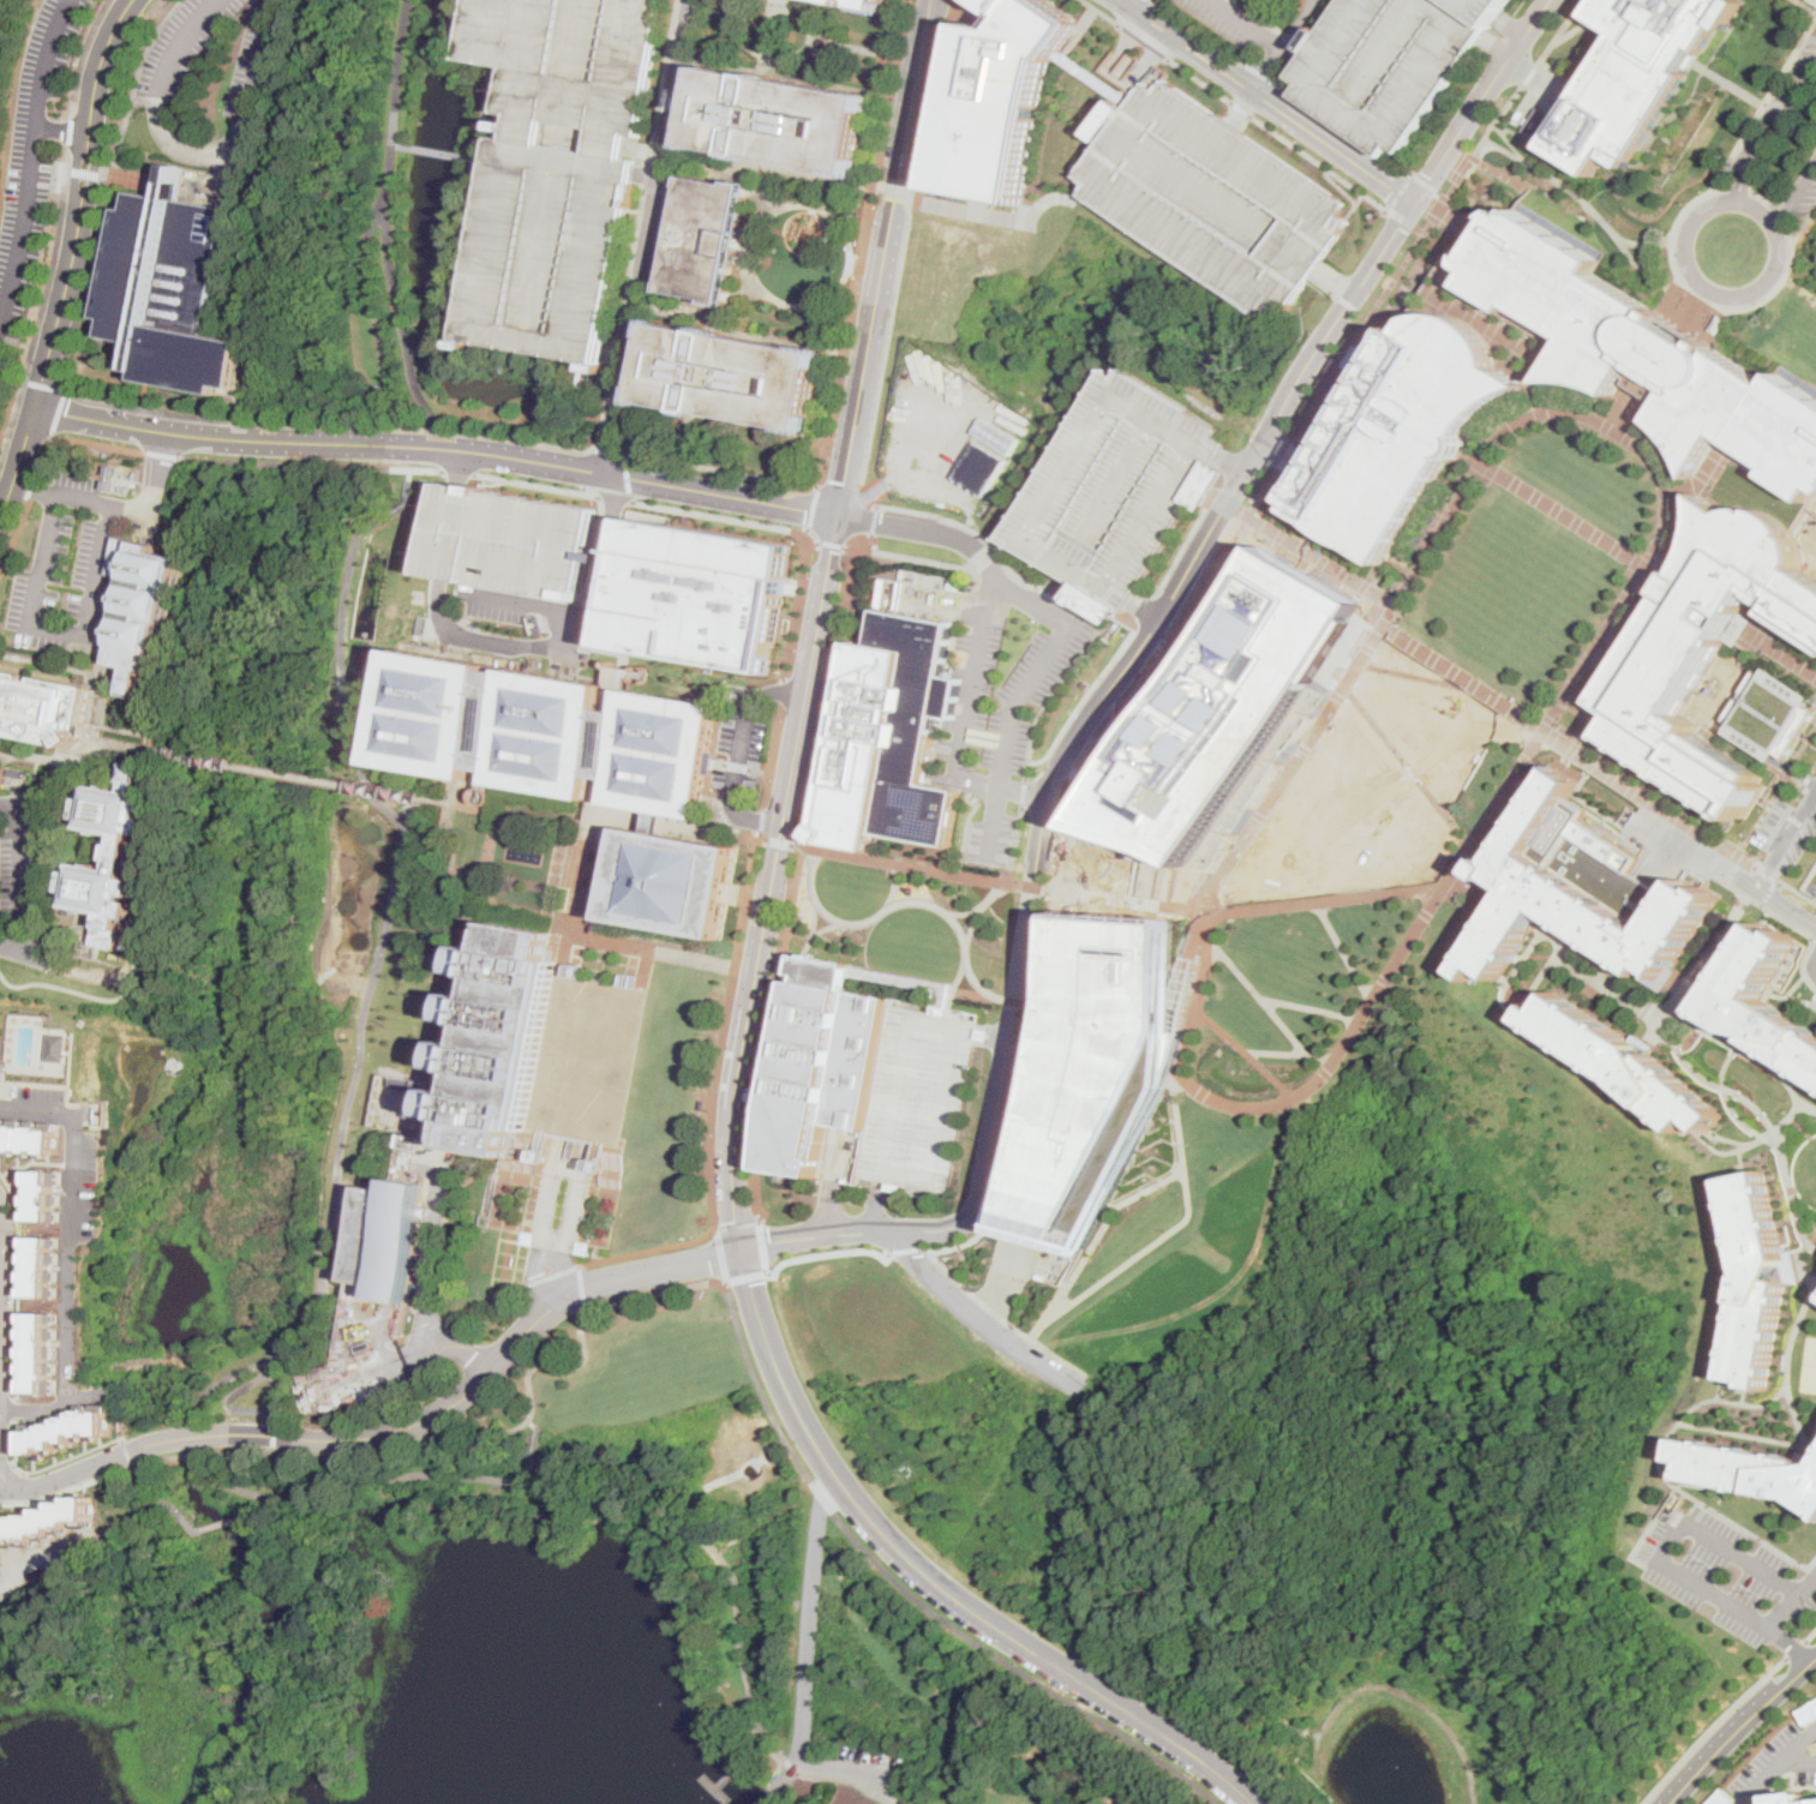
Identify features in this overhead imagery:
road: (1808, 4)
building: (871, 5)
road: (1137, 5)
road: (719, 10)
road: (1103, 11)
road: (796, 18)
road: (931, 22)
road: (723, 24)
road: (1296, 25)
road: (1512, 26)
road: (1560, 32)
road: (1198, 34)
road: (768, 37)
road: (1261, 38)
road: (1144, 41)
road: (813, 42)
parking lot: (185, 46)
road: (865, 47)
road: (84, 54)
road: (769, 56)
road: (1291, 56)
road: (102, 62)
building: (1392, 62)
parking lot: (1392, 62)
road: (1522, 67)
parking lot: (260, 68)
road: (400, 71)
road: (1263, 74)
road: (1530, 76)
building: (1635, 77)
road: (1199, 79)
road: (137, 84)
road: (1740, 90)
building: (1001, 98)
road: (1266, 100)
road: (1482, 100)
road: (935, 103)
road: (1506, 106)
parking lot: (1773, 107)
road: (1241, 108)
road: (1241, 108)
road: (1762, 108)
road: (911, 109)
building: (784, 121)
road: (62, 128)
road: (71, 130)
road: (1773, 133)
road: (1343, 134)
road: (1508, 140)
road: (1481, 143)
road: (396, 144)
road: (651, 148)
road: (197, 151)
road: (437, 151)
road: (32, 154)
parking lot: (34, 157)
road: (1321, 162)
road: (739, 164)
road: (724, 166)
building: (561, 167)
parking lot: (561, 167)
road: (50, 168)
road: (809, 172)
road: (85, 173)
road: (76, 175)
road: (94, 176)
road: (134, 180)
road: (1424, 182)
road: (773, 185)
road: (892, 186)
road: (895, 187)
road: (913, 190)
road: (1401, 191)
road: (1738, 191)
road: (1443, 193)
road: (839, 194)
road: (1793, 194)
building: (1215, 197)
parking lot: (1215, 197)
road: (1584, 200)
road: (1762, 200)
parking lot: (1805, 200)
road: (1748, 205)
road: (1002, 214)
road: (1402, 216)
road: (1779, 217)
road: (1458, 220)
road: (1768, 222)
road: (1803, 224)
road: (1421, 228)
road: (1467, 234)
road: (647, 236)
building: (709, 239)
road: (1649, 241)
road: (864, 242)
park: (797, 258)
road: (1684, 262)
road: (1774, 262)
road: (856, 263)
road: (368, 274)
road: (1336, 278)
road: (1325, 284)
building: (173, 292)
road: (1701, 292)
road: (1679, 295)
road: (1385, 298)
road: (775, 300)
road: (1697, 300)
road: (1350, 301)
road: (43, 304)
road: (700, 310)
road: (402, 317)
road: (815, 322)
building: (1715, 323)
road: (783, 330)
road: (1493, 330)
road: (1677, 331)
road: (886, 338)
building: (1644, 352)
road: (66, 362)
road: (1656, 364)
road: (44, 366)
road: (1654, 368)
building: (943, 373)
building: (738, 377)
road: (1351, 382)
road: (44, 383)
building: (124, 396)
building: (1335, 398)
road: (59, 410)
road: (1536, 414)
road: (696, 418)
road: (332, 424)
building: (1403, 432)
road: (437, 437)
building: (997, 437)
road: (53, 438)
building: (1481, 438)
road: (80, 439)
road: (941, 439)
road: (540, 443)
road: (437, 448)
road: (611, 450)
road: (162, 454)
road: (1285, 454)
road: (312, 463)
road: (1231, 465)
building: (979, 468)
building: (113, 469)
road: (459, 471)
road: (723, 471)
building: (1460, 473)
park: (1586, 477)
road: (1700, 480)
road: (155, 484)
road: (535, 484)
road: (32, 485)
building: (110, 485)
road: (1264, 489)
building: (1113, 490)
parking lot: (1113, 490)
road: (1218, 497)
road: (79, 498)
road: (615, 498)
road: (813, 510)
road: (1558, 514)
road: (1248, 515)
road: (719, 516)
building: (1432, 516)
road: (873, 520)
road: (963, 526)
road: (924, 528)
road: (1305, 534)
road: (16, 538)
building: (1419, 538)
building: (513, 539)
parking garage: (513, 539)
road: (827, 543)
road: (869, 543)
road: (906, 556)
building: (1665, 556)
road: (981, 557)
parking lot: (563, 568)
parking lot: (68, 569)
building: (929, 577)
building: (954, 582)
building: (1391, 582)
building: (1643, 589)
building: (699, 593)
road: (1047, 595)
park: (1511, 595)
building: (144, 605)
road: (798, 606)
road: (1141, 607)
road: (56, 628)
road: (1762, 629)
road: (1138, 630)
building: (1616, 634)
road: (505, 647)
building: (1704, 648)
road: (1774, 652)
building: (1388, 654)
building: (1602, 654)
road: (55, 664)
road: (1416, 677)
road: (1458, 677)
road: (108, 682)
road: (1059, 683)
road: (784, 693)
road: (826, 695)
road: (1133, 696)
road: (1020, 697)
building: (1575, 697)
parking lot: (1002, 699)
building: (41, 707)
building: (1224, 707)
building: (1770, 715)
road: (798, 723)
road: (964, 723)
road: (1805, 737)
building: (892, 738)
road: (1302, 744)
road: (742, 750)
road: (1745, 750)
road: (1569, 751)
road: (1766, 754)
road: (773, 756)
road: (86, 762)
road: (721, 762)
road: (737, 765)
road: (1563, 767)
road: (1590, 767)
road: (1404, 768)
building: (580, 769)
road: (760, 769)
road: (302, 777)
road: (1056, 778)
road: (54, 784)
park: (1380, 786)
road: (1024, 792)
road: (1506, 793)
road: (1644, 797)
road: (1762, 801)
road: (1767, 801)
road: (1782, 813)
road: (617, 815)
road: (1493, 815)
road: (762, 819)
road: (661, 822)
parking lot: (1772, 823)
road: (713, 832)
road: (760, 834)
road: (1481, 834)
road: (761, 839)
parking lot: (1800, 839)
road: (1787, 840)
road: (779, 841)
road: (1015, 843)
building: (115, 853)
fountain: (522, 855)
road: (1490, 856)
parking lot: (22, 857)
road: (562, 859)
road: (569, 861)
road: (905, 861)
road: (580, 862)
park: (528, 865)
road: (586, 867)
park: (1472, 867)
parking lot: (1814, 868)
road: (1710, 871)
road: (1763, 873)
road: (18, 877)
road: (1485, 879)
road: (1032, 882)
road: (1480, 883)
road: (894, 886)
building: (1583, 886)
road: (1065, 887)
road: (1797, 889)
road: (1767, 892)
road: (1102, 893)
road: (1125, 895)
road: (580, 899)
road: (1147, 899)
road: (1324, 899)
road: (903, 901)
road: (983, 904)
road: (1185, 905)
road: (1786, 906)
road: (579, 907)
road: (1472, 910)
road: (552, 913)
road: (1766, 915)
road: (576, 916)
road: (1422, 919)
park: (907, 922)
road: (973, 927)
park: (1372, 929)
road: (815, 934)
road: (1203, 935)
road: (1814, 937)
road: (25, 943)
road: (1533, 947)
road: (809, 948)
road: (1343, 951)
road: (1189, 958)
park: (1295, 960)
road: (1815, 964)
road: (1548, 970)
road: (1198, 973)
road: (88, 975)
road: (891, 977)
road: (373, 978)
road: (955, 981)
road: (1679, 981)
road: (86, 993)
road: (1698, 993)
road: (1257, 994)
road: (1787, 994)
road: (1011, 999)
road: (1812, 999)
road: (1041, 1000)
building: (1761, 1001)
road: (1800, 1001)
parking lot: (1815, 1001)
road: (1030, 1002)
road: (1511, 1002)
road: (1309, 1008)
park: (1240, 1011)
road: (1661, 1012)
road: (1690, 1014)
road: (1666, 1024)
park: (1312, 1027)
road: (766, 1030)
road: (1545, 1030)
road: (1725, 1031)
road: (725, 1032)
road: (991, 1037)
building: (502, 1038)
road: (1557, 1043)
road: (1234, 1044)
building: (58, 1047)
road: (1650, 1048)
road: (1575, 1049)
road: (1288, 1053)
road: (1688, 1057)
building: (585, 1059)
parking lot: (585, 1059)
building: (1630, 1061)
building: (815, 1062)
road: (1761, 1062)
building: (1091, 1077)
road: (35, 1081)
road: (1021, 1091)
road: (1727, 1096)
building: (420, 1099)
building: (916, 1099)
parking garage: (916, 1099)
road: (1225, 1103)
road: (1751, 1103)
road: (1808, 1107)
road: (40, 1108)
road: (1780, 1123)
building: (29, 1135)
road: (1732, 1140)
road: (1712, 1146)
road: (1739, 1153)
parking lot: (70, 1156)
road: (829, 1157)
park: (1805, 1170)
road: (833, 1181)
road: (1788, 1187)
building: (44, 1194)
road: (875, 1209)
road: (738, 1222)
road: (1169, 1229)
road: (1098, 1231)
building: (386, 1237)
park: (1183, 1240)
road: (763, 1245)
road: (1810, 1245)
road: (2, 1248)
road: (649, 1248)
road: (903, 1248)
road: (551, 1249)
road: (826, 1252)
road: (721, 1254)
road: (428, 1257)
road: (1793, 1257)
building: (43, 1265)
road: (941, 1266)
road: (552, 1273)
road: (555, 1275)
road: (1800, 1276)
road: (747, 1277)
building: (1754, 1277)
road: (723, 1281)
road: (997, 1281)
road: (582, 1283)
road: (72, 1289)
road: (1811, 1299)
road: (486, 1301)
road: (984, 1303)
road: (587, 1308)
road: (969, 1311)
road: (428, 1327)
building: (344, 1331)
road: (404, 1337)
building: (364, 1345)
road: (2, 1347)
park: (634, 1347)
road: (1050, 1348)
building: (40, 1349)
road: (419, 1353)
road: (154, 1361)
park: (1804, 1362)
road: (206, 1368)
road: (1719, 1370)
road: (1784, 1372)
road: (762, 1389)
road: (274, 1391)
road: (1740, 1391)
road: (226, 1401)
road: (1692, 1406)
road: (394, 1428)
building: (70, 1431)
road: (474, 1431)
road: (74, 1432)
road: (1742, 1433)
road: (1811, 1436)
road: (274, 1437)
road: (104, 1440)
road: (272, 1450)
road: (132, 1454)
road: (37, 1455)
road: (1666, 1456)
road: (0, 1467)
building: (1748, 1469)
road: (1690, 1484)
road: (233, 1486)
road: (823, 1496)
road: (661, 1517)
building: (52, 1518)
road: (232, 1518)
road: (1684, 1522)
road: (1649, 1529)
road: (1746, 1532)
road: (100, 1534)
parking lot: (1725, 1572)
road: (1805, 1580)
road: (936, 1581)
road: (1809, 1635)
road: (1788, 1644)
road: (1793, 1649)
road: (807, 1664)
road: (1020, 1667)
parking lot: (1806, 1709)
building: (1806, 1710)
road: (1737, 1725)
road: (1709, 1726)
parking lot: (1707, 1743)
road: (1019, 1745)
road: (754, 1752)
parking lot: (1762, 1756)
road: (918, 1758)
road: (1800, 1763)
parking lot: (868, 1764)
road: (1778, 1764)
road: (784, 1773)
road: (1785, 1773)
pier: (731, 1775)
road: (792, 1776)
parking lot: (1803, 1776)
pier: (718, 1787)
building: (1719, 1797)
parking lot: (1719, 1797)
building: (1791, 1797)
pier: (779, 1800)

